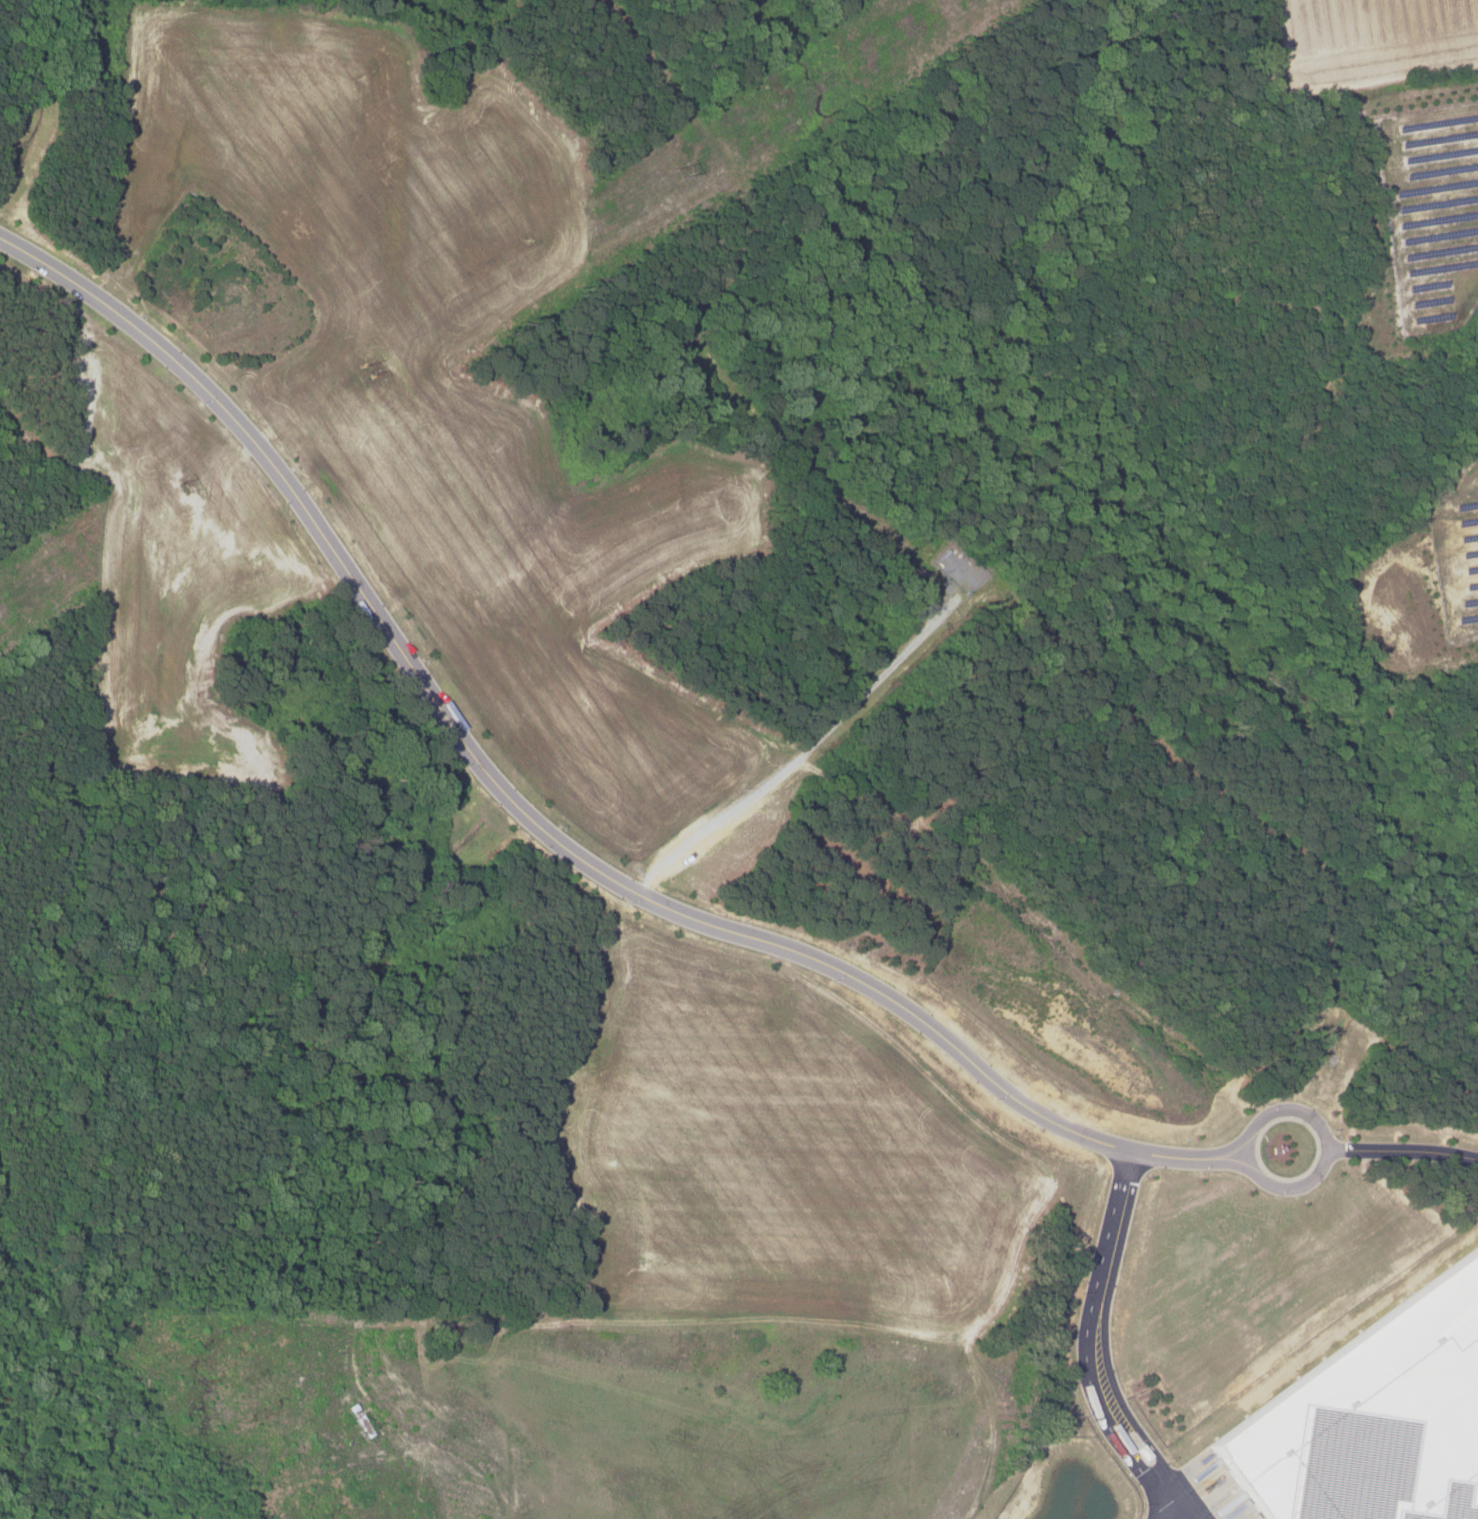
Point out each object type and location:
power tower: (675, 174)
solar farm: (1440, 319)
power tower: (369, 371)
road: (536, 821)
road: (1324, 1145)
road: (1401, 1149)
road: (1092, 1347)
building: (1372, 1416)
road: (1177, 1514)

